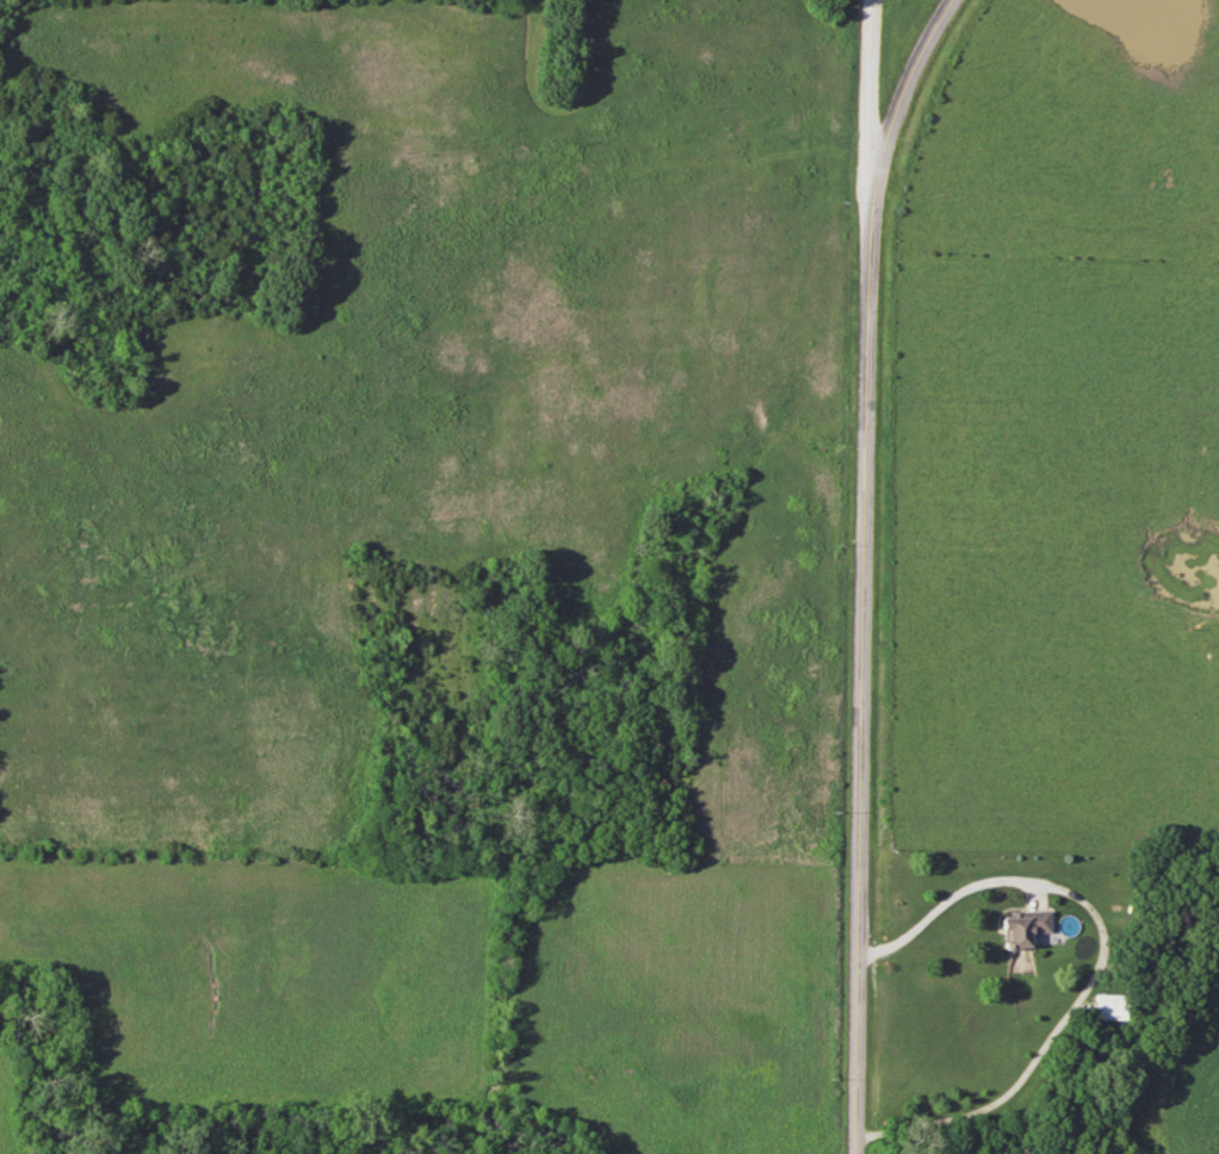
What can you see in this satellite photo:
road: (897, 117)
road: (868, 122)
road: (861, 699)
building: (1020, 927)
road: (1099, 962)
building: (1112, 1007)

